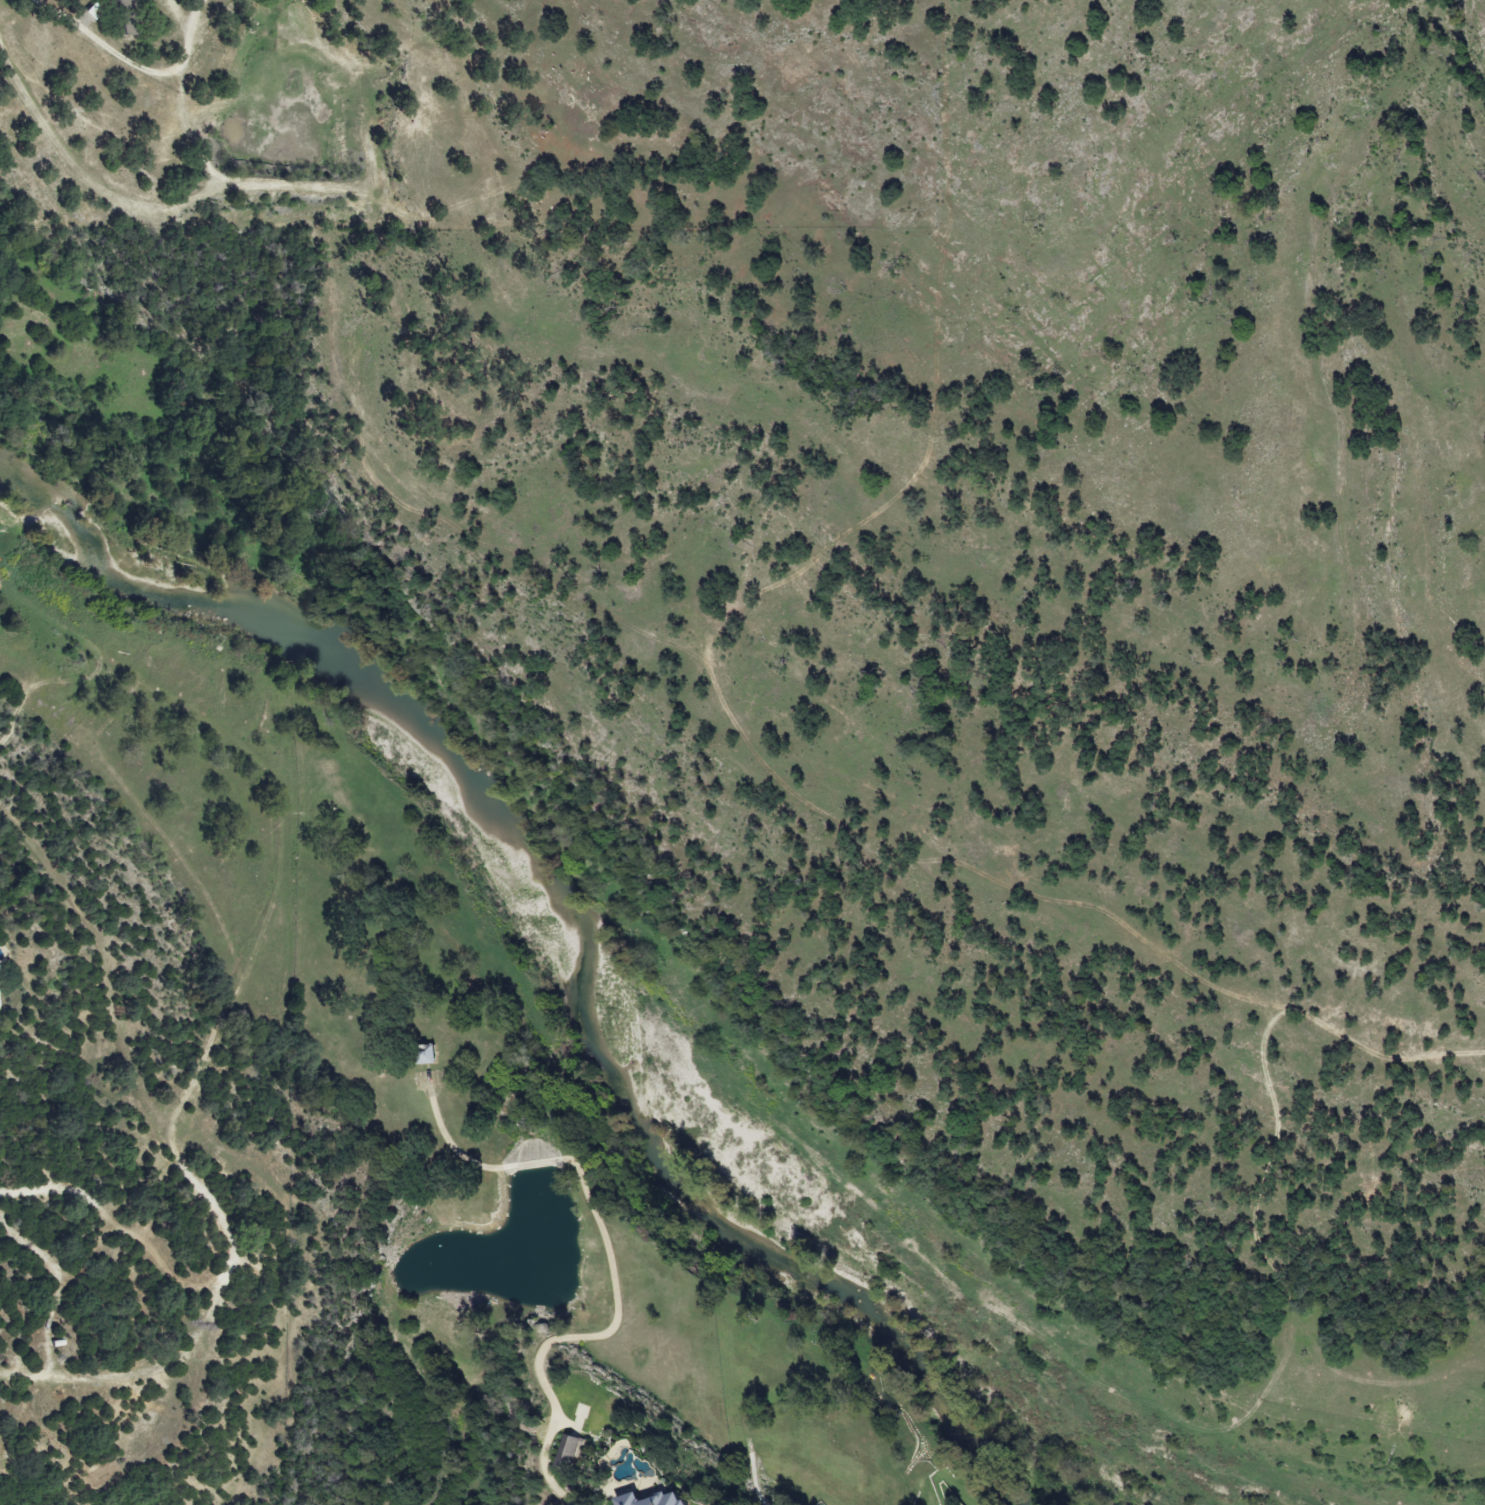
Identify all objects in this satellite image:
river: (581, 921)
building: (424, 1055)
road: (612, 1263)
building: (567, 1453)
building: (649, 1500)

